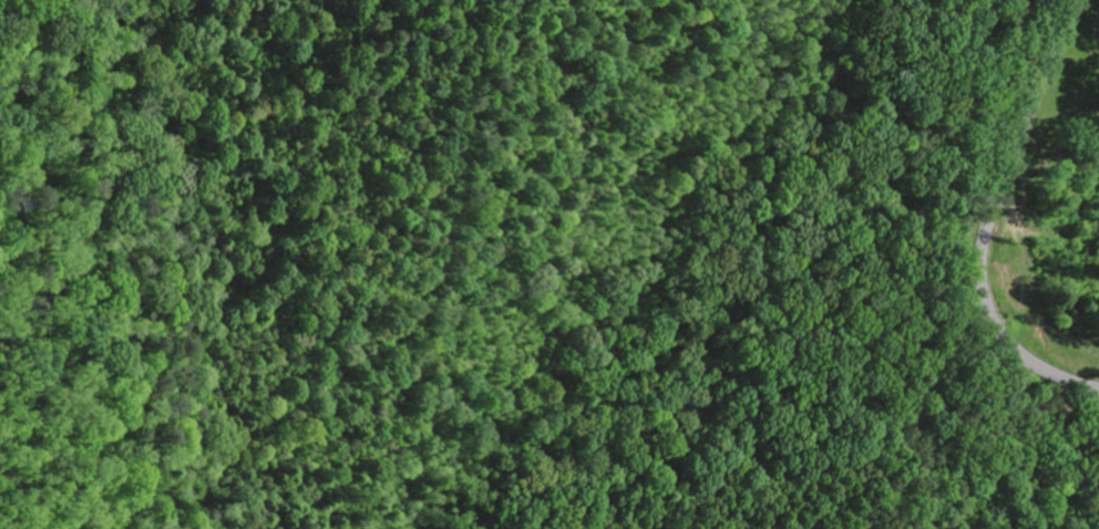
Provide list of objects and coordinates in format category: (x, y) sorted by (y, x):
road: (986, 221)

